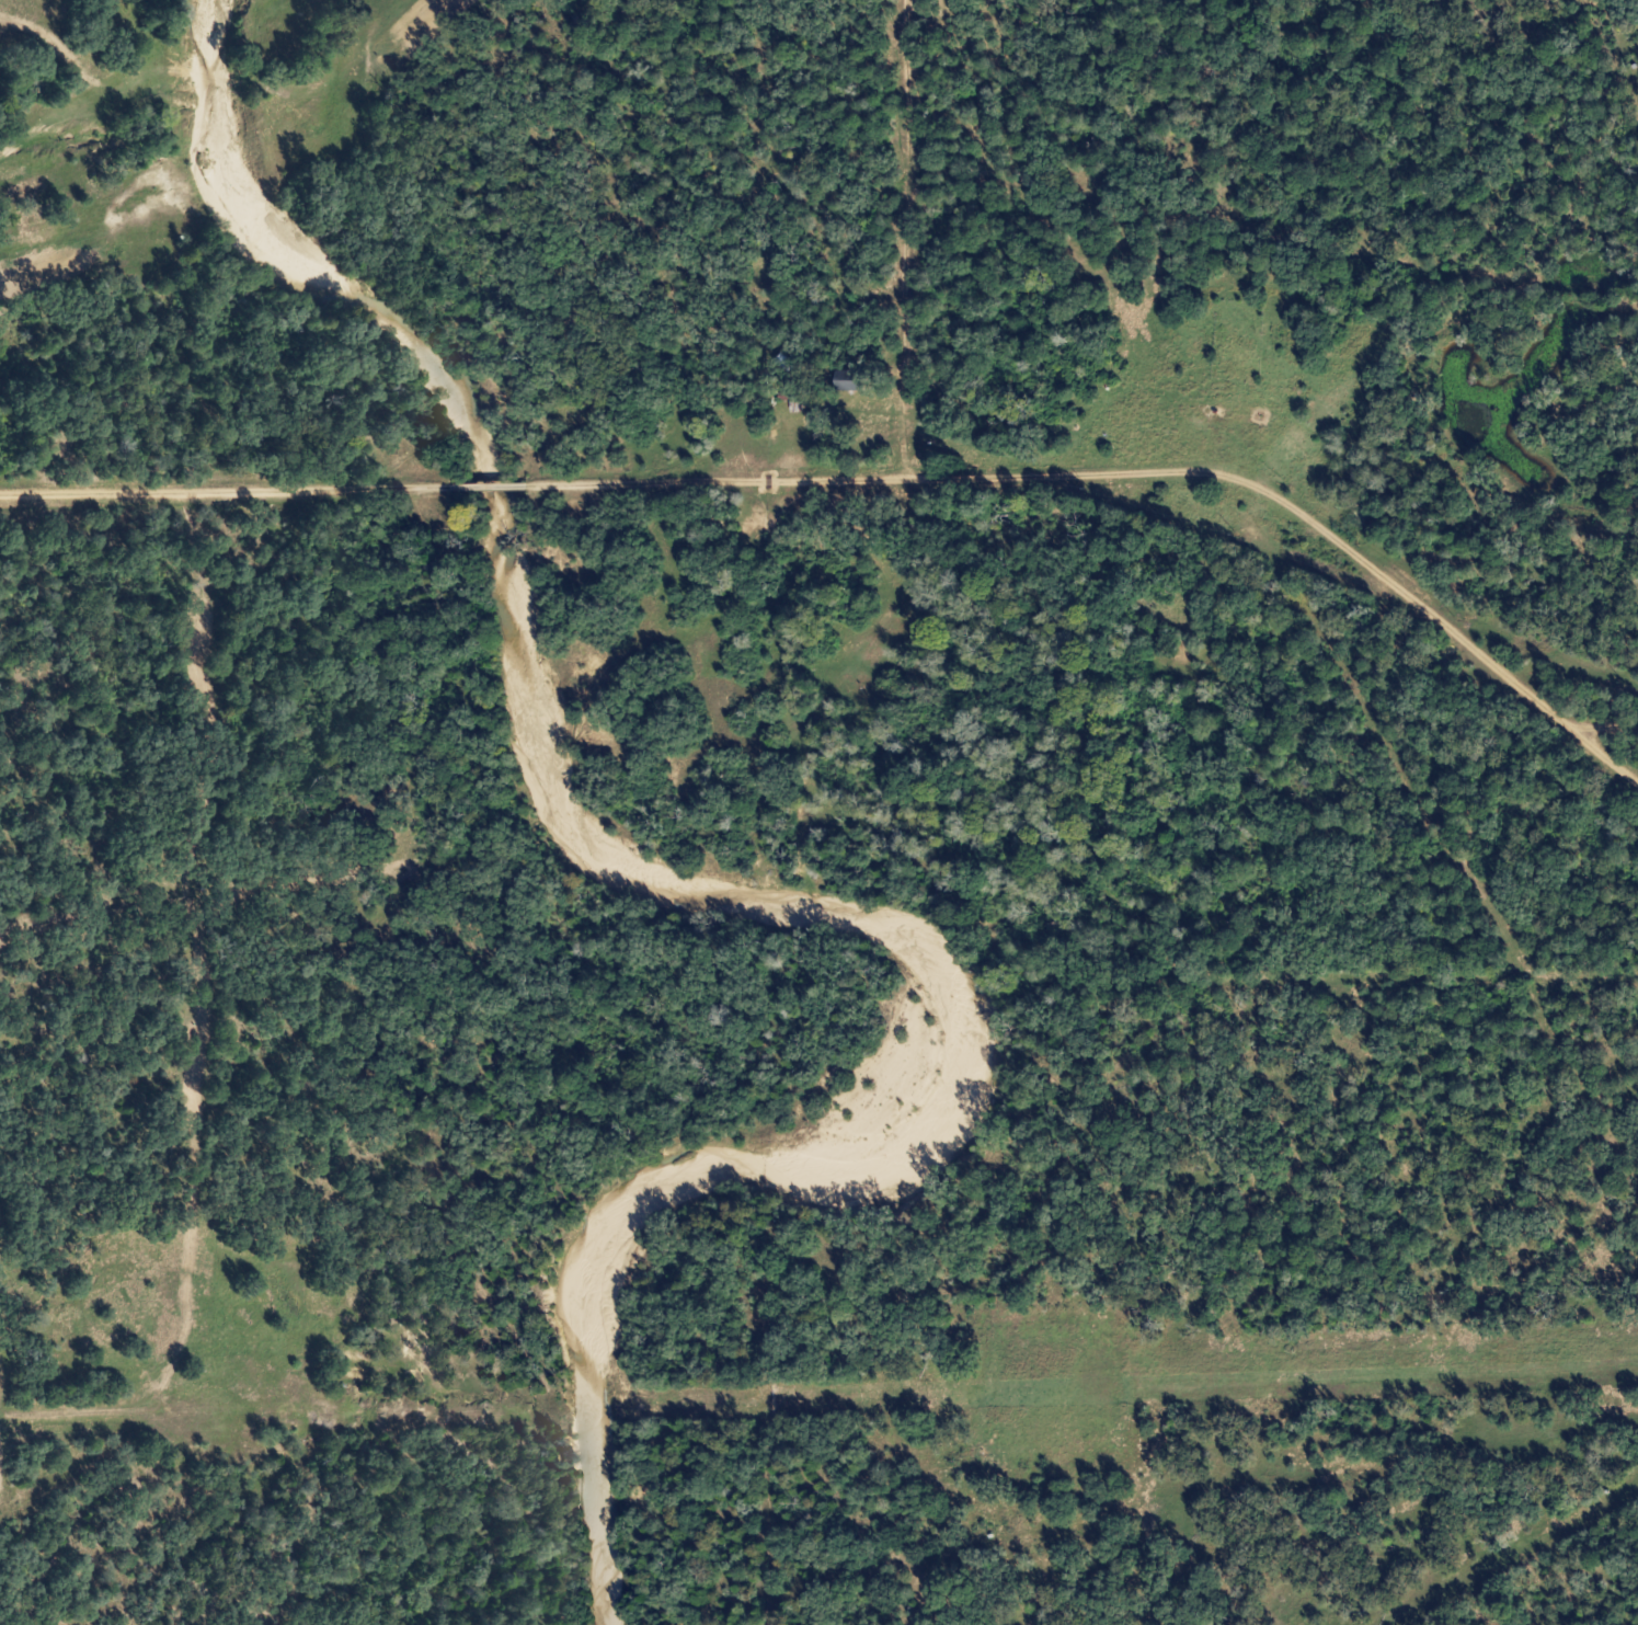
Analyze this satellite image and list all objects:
building: (847, 379)
building: (792, 403)
road: (860, 481)
road: (1604, 753)
road: (75, 1414)

